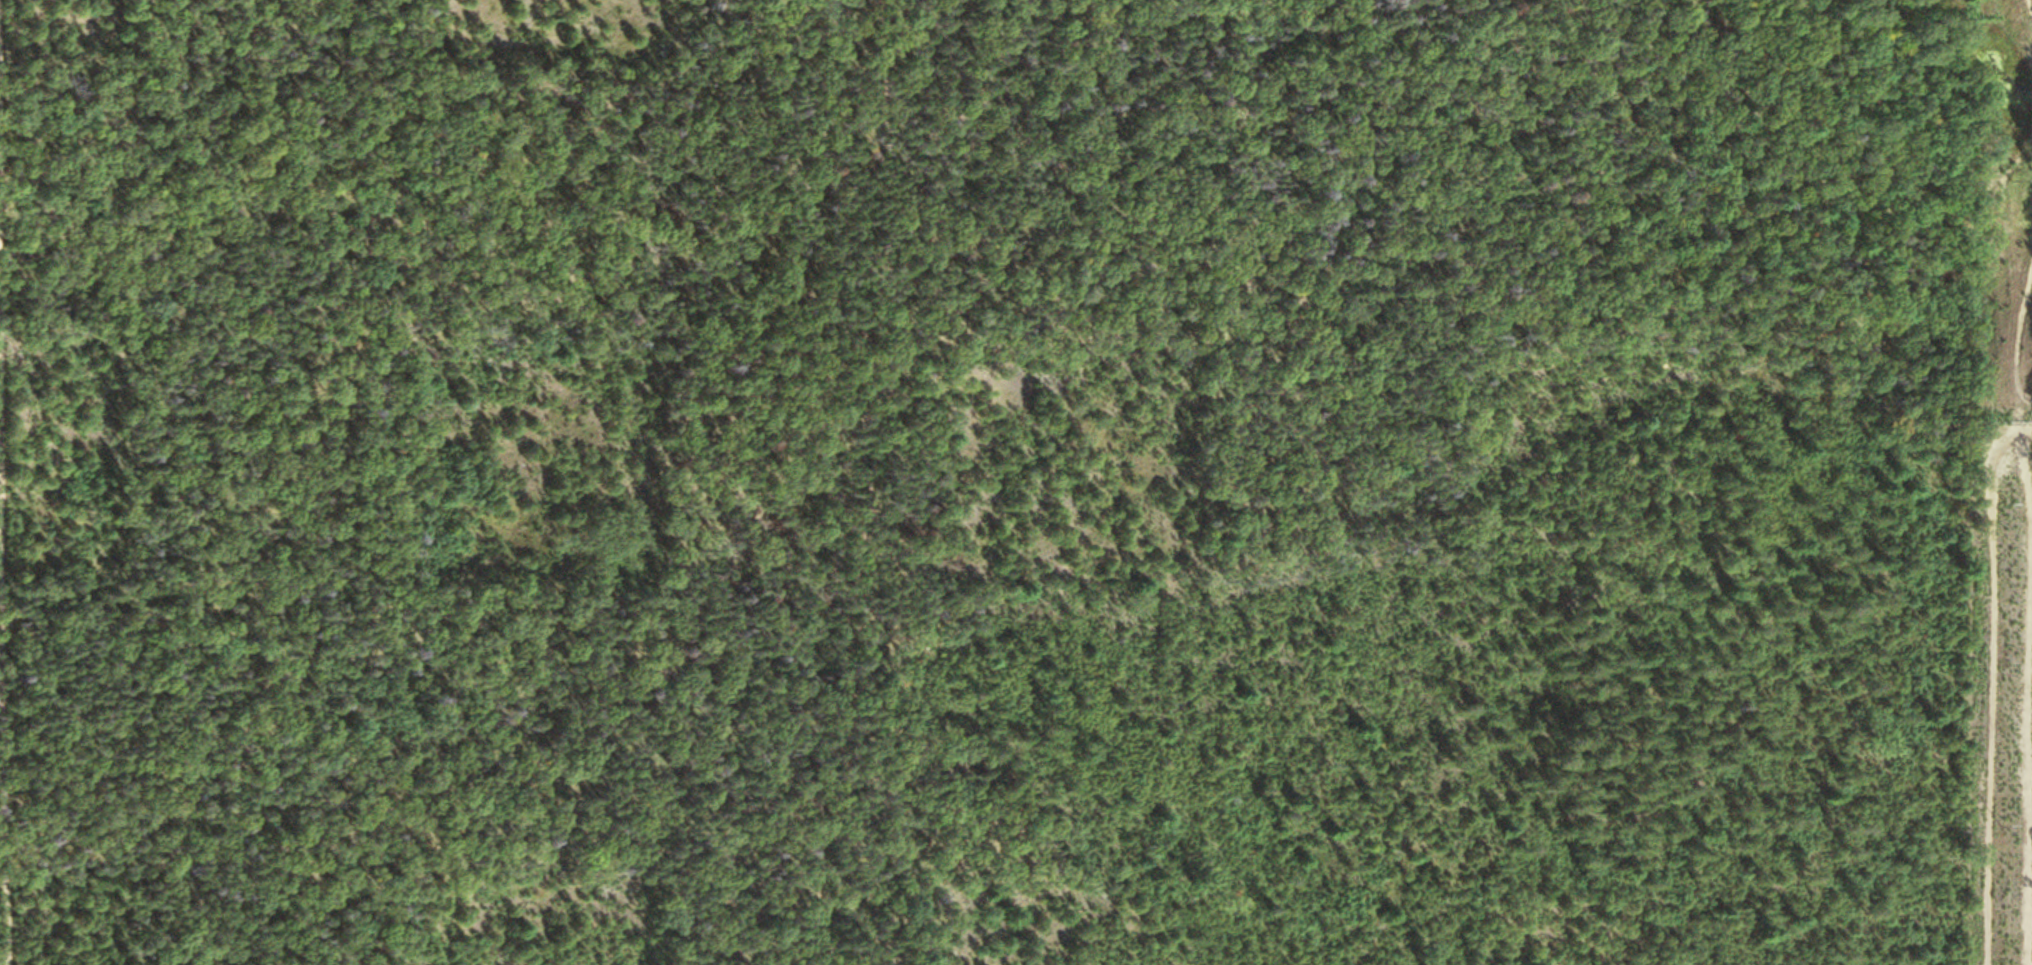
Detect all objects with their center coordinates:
road: (868, 483)

